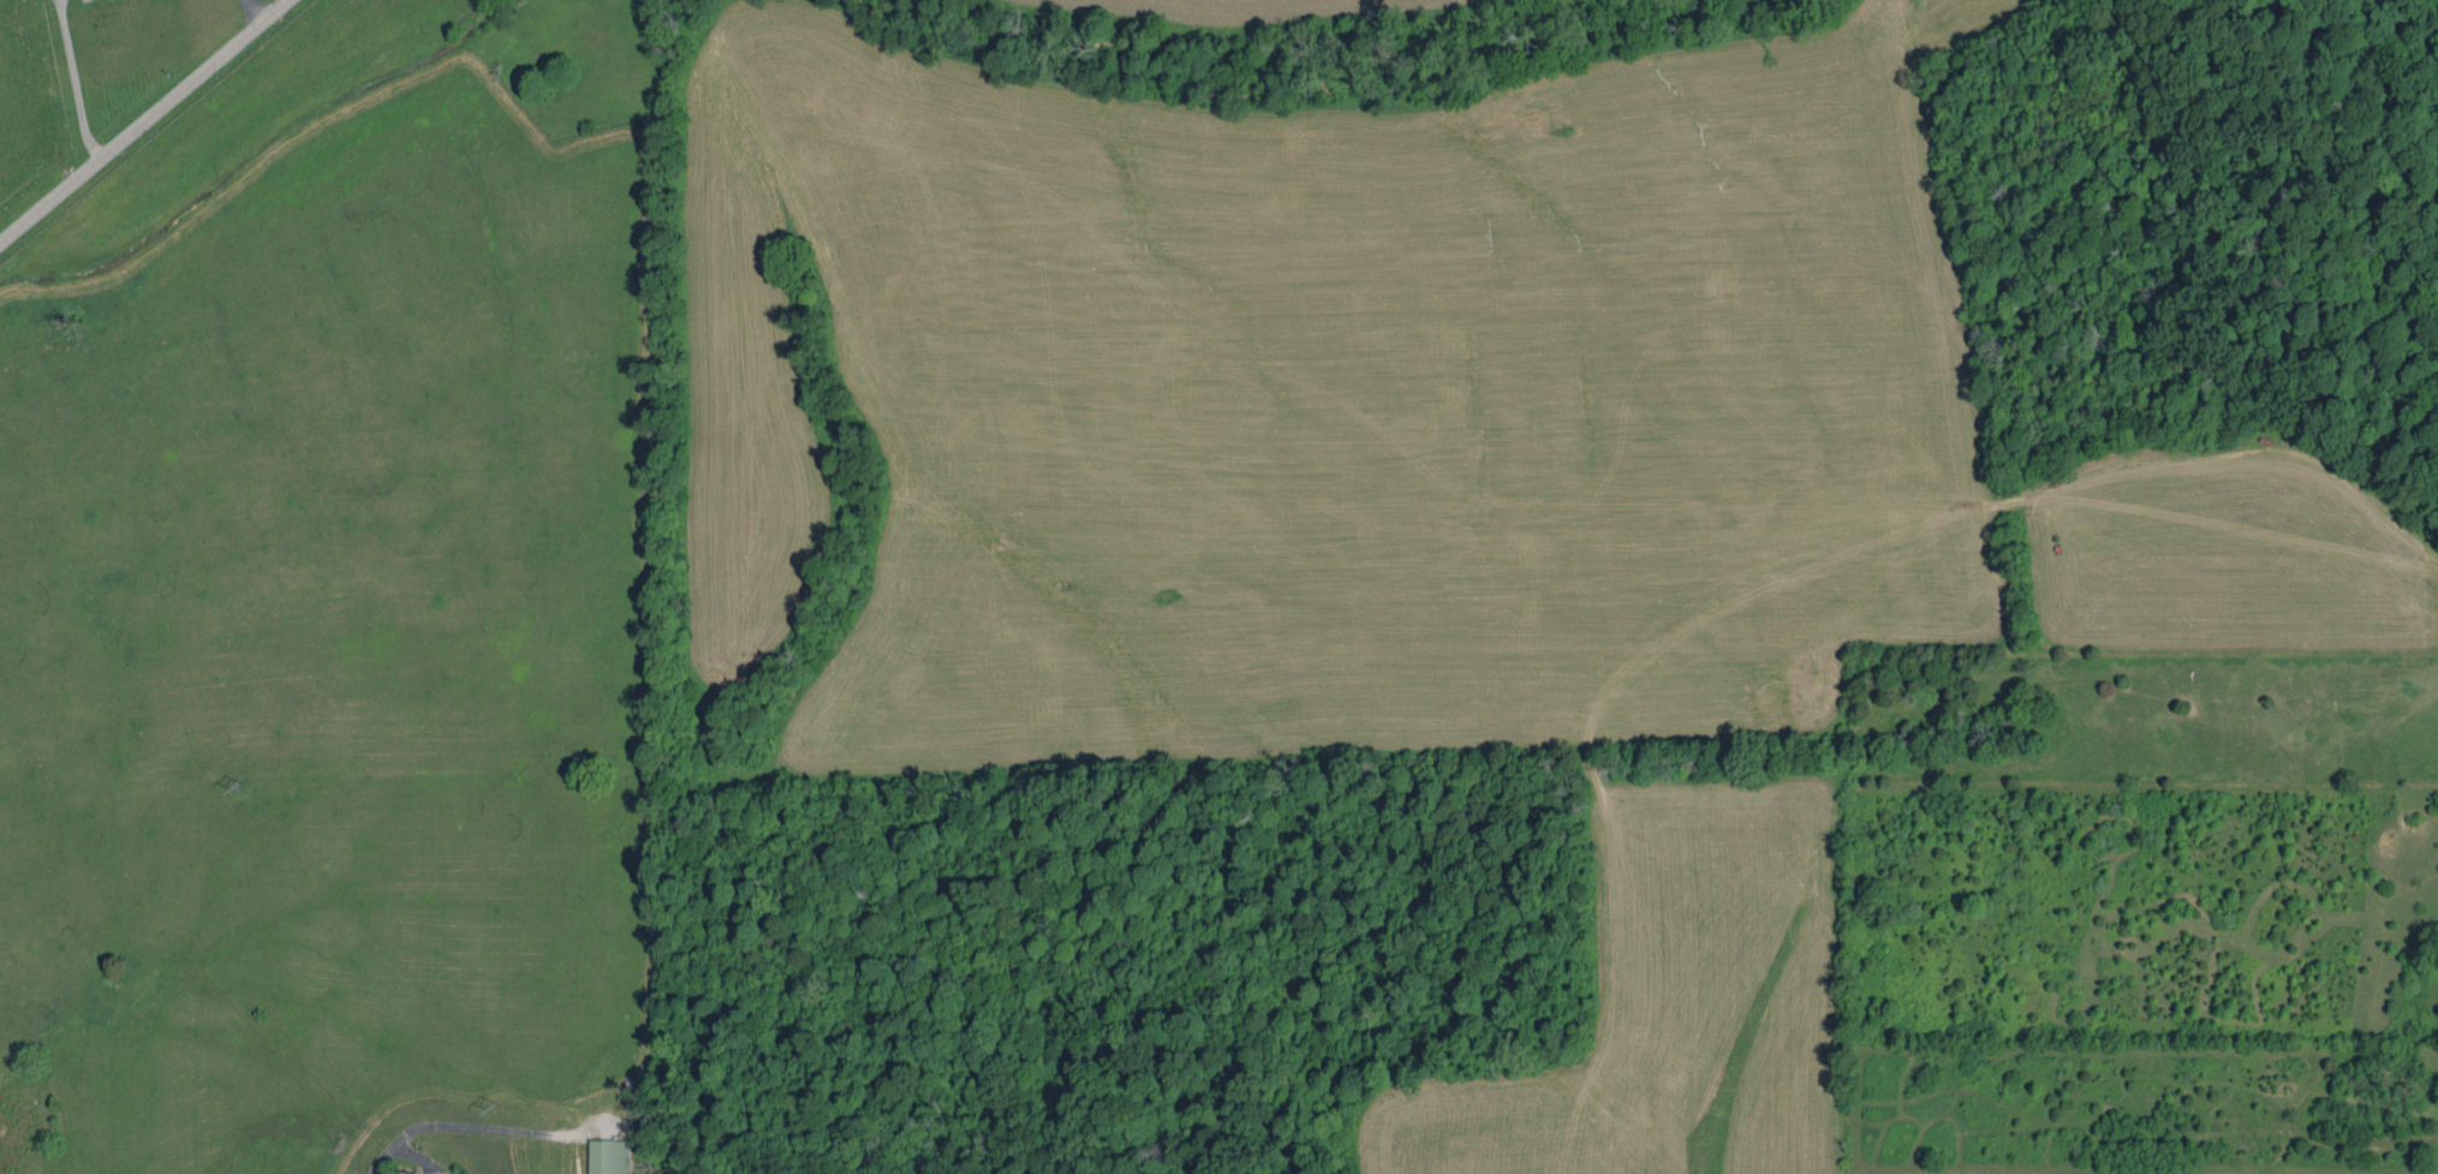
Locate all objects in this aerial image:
road: (72, 83)
road: (147, 124)
power tower: (239, 788)
power tower: (493, 1106)
road: (395, 1149)
building: (609, 1156)
building: (404, 1173)

